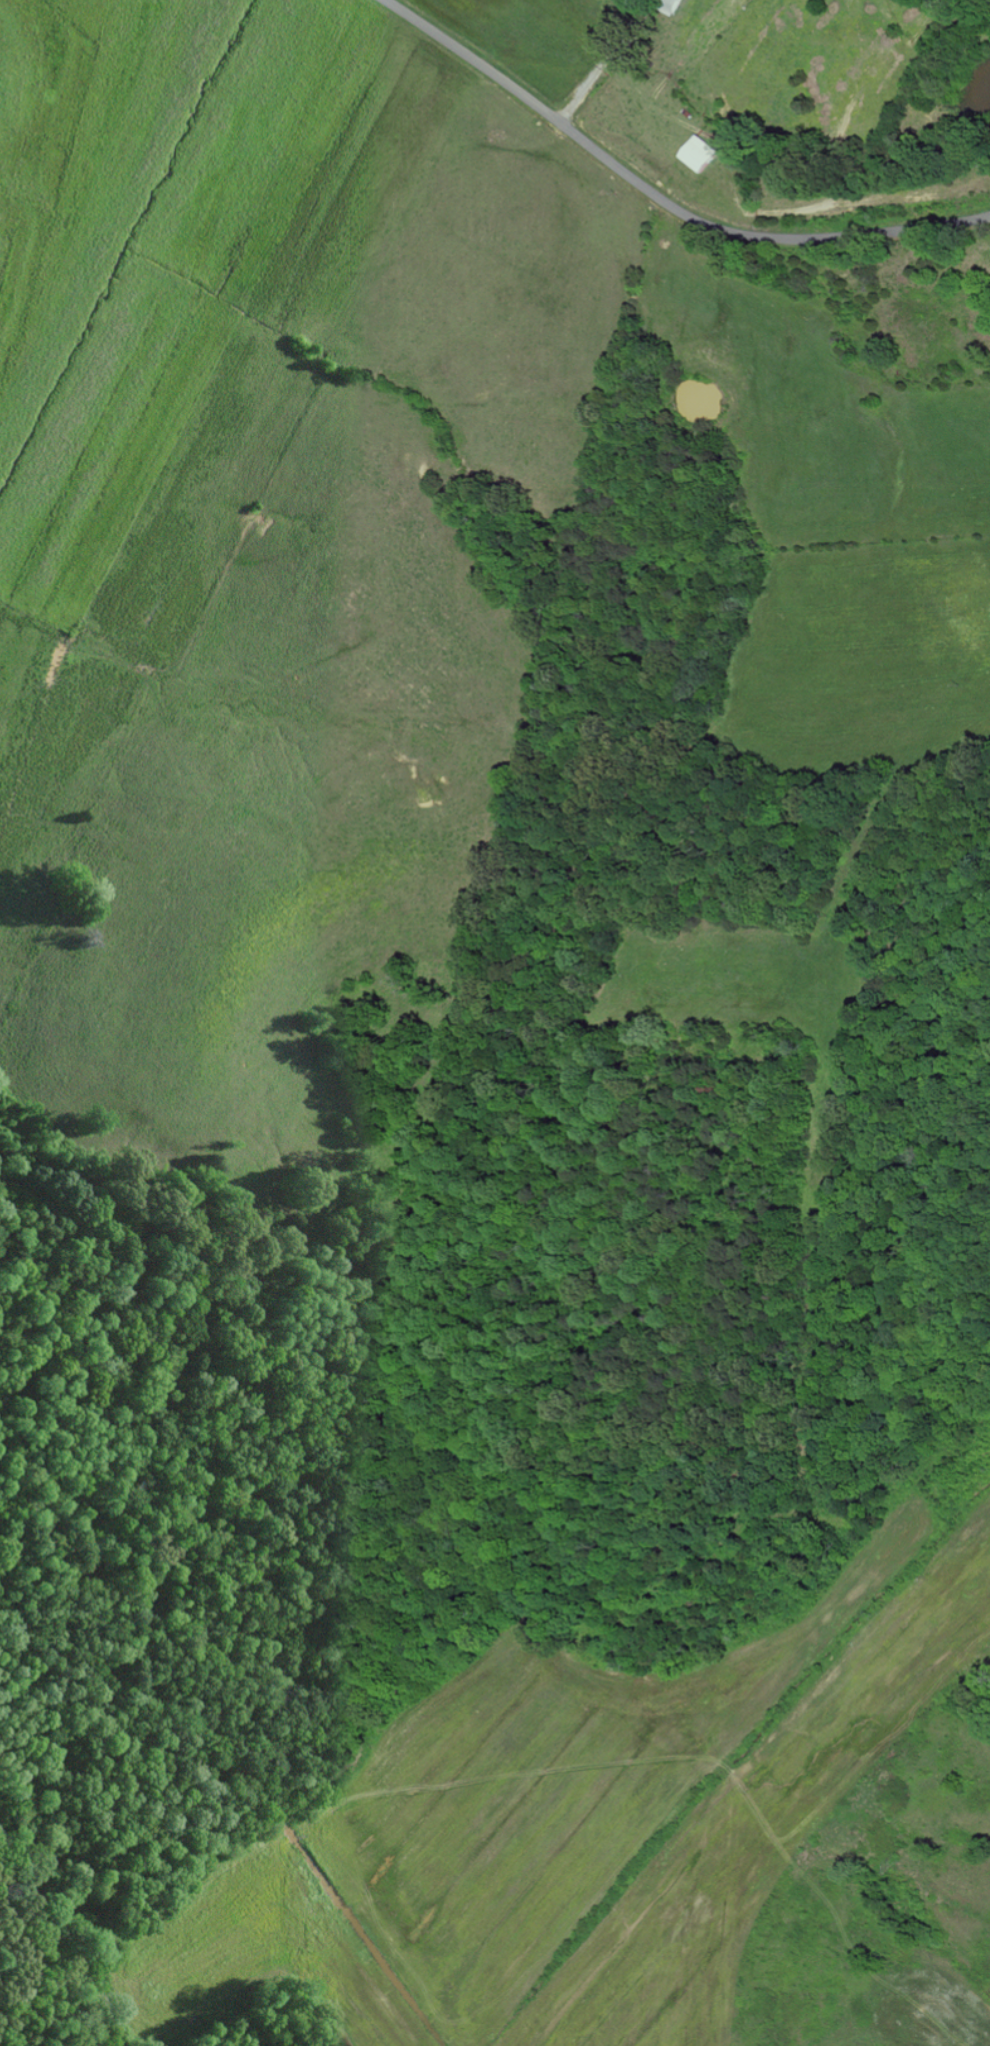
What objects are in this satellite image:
building: (666, 5)
road: (593, 71)
building: (698, 152)
road: (661, 197)
road: (529, 698)

